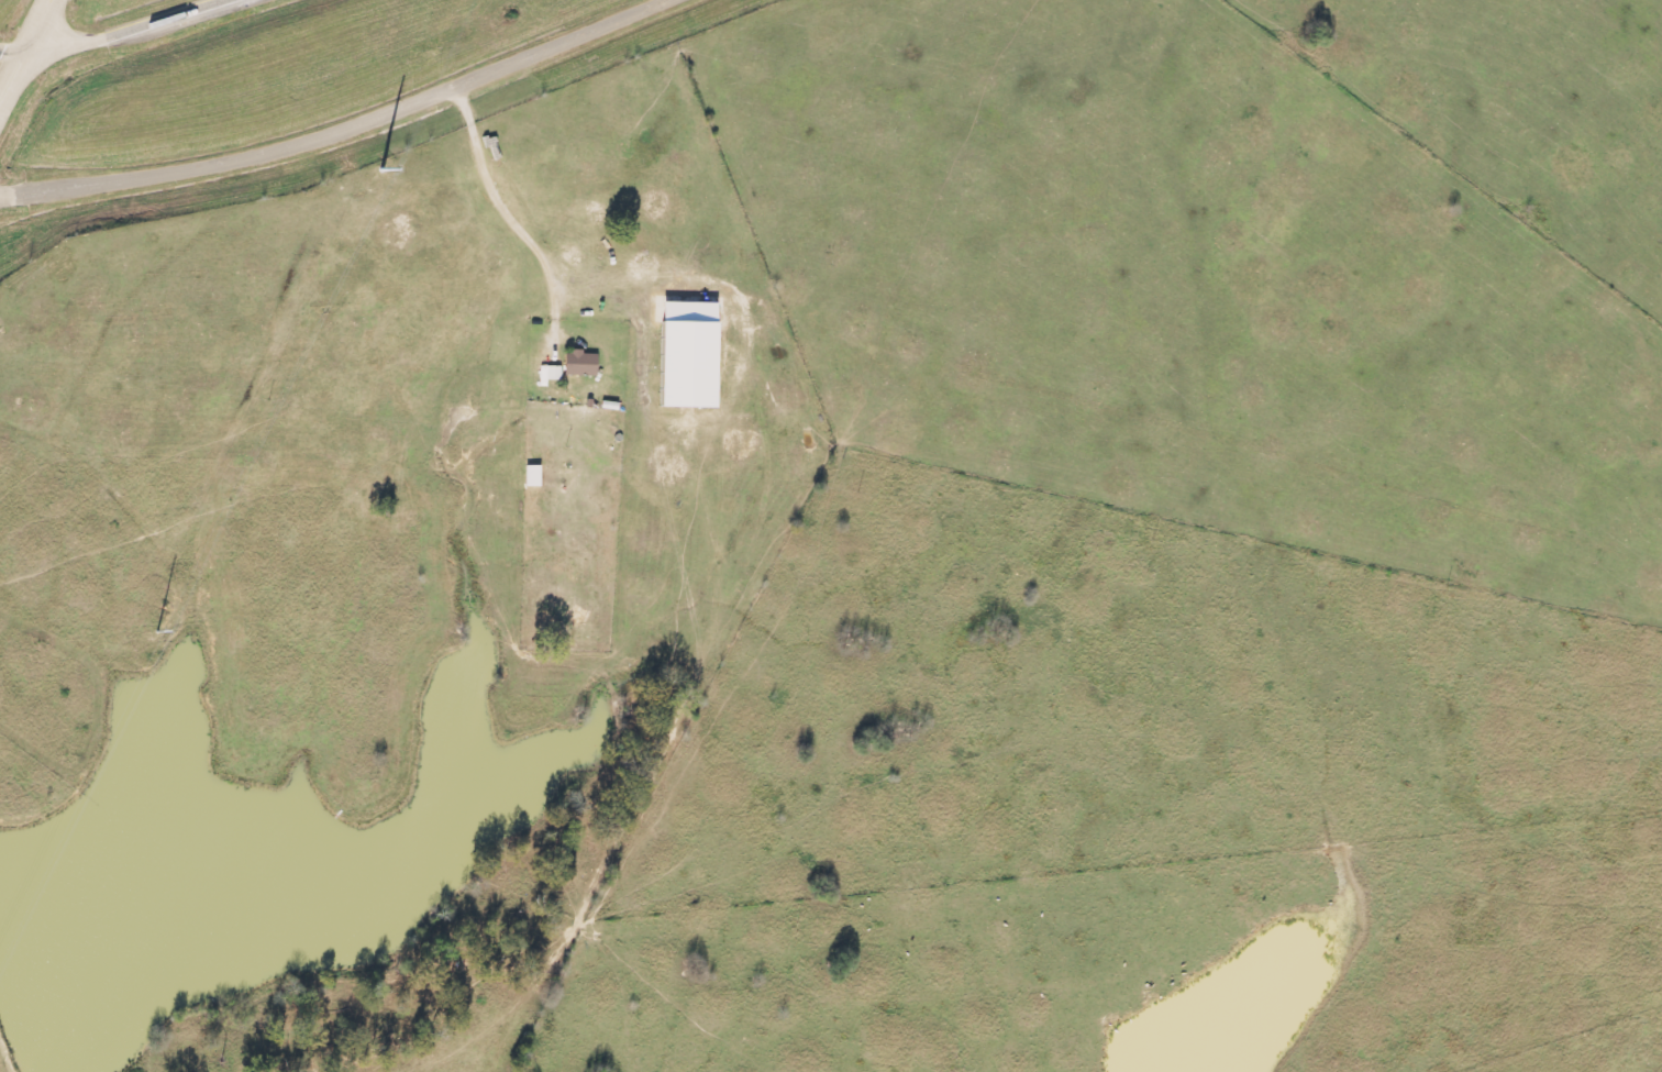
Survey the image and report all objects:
road: (113, 29)
road: (24, 48)
road: (10, 55)
road: (345, 129)
power tower: (381, 159)
building: (584, 363)
power tower: (152, 637)
power tower: (66, 780)

